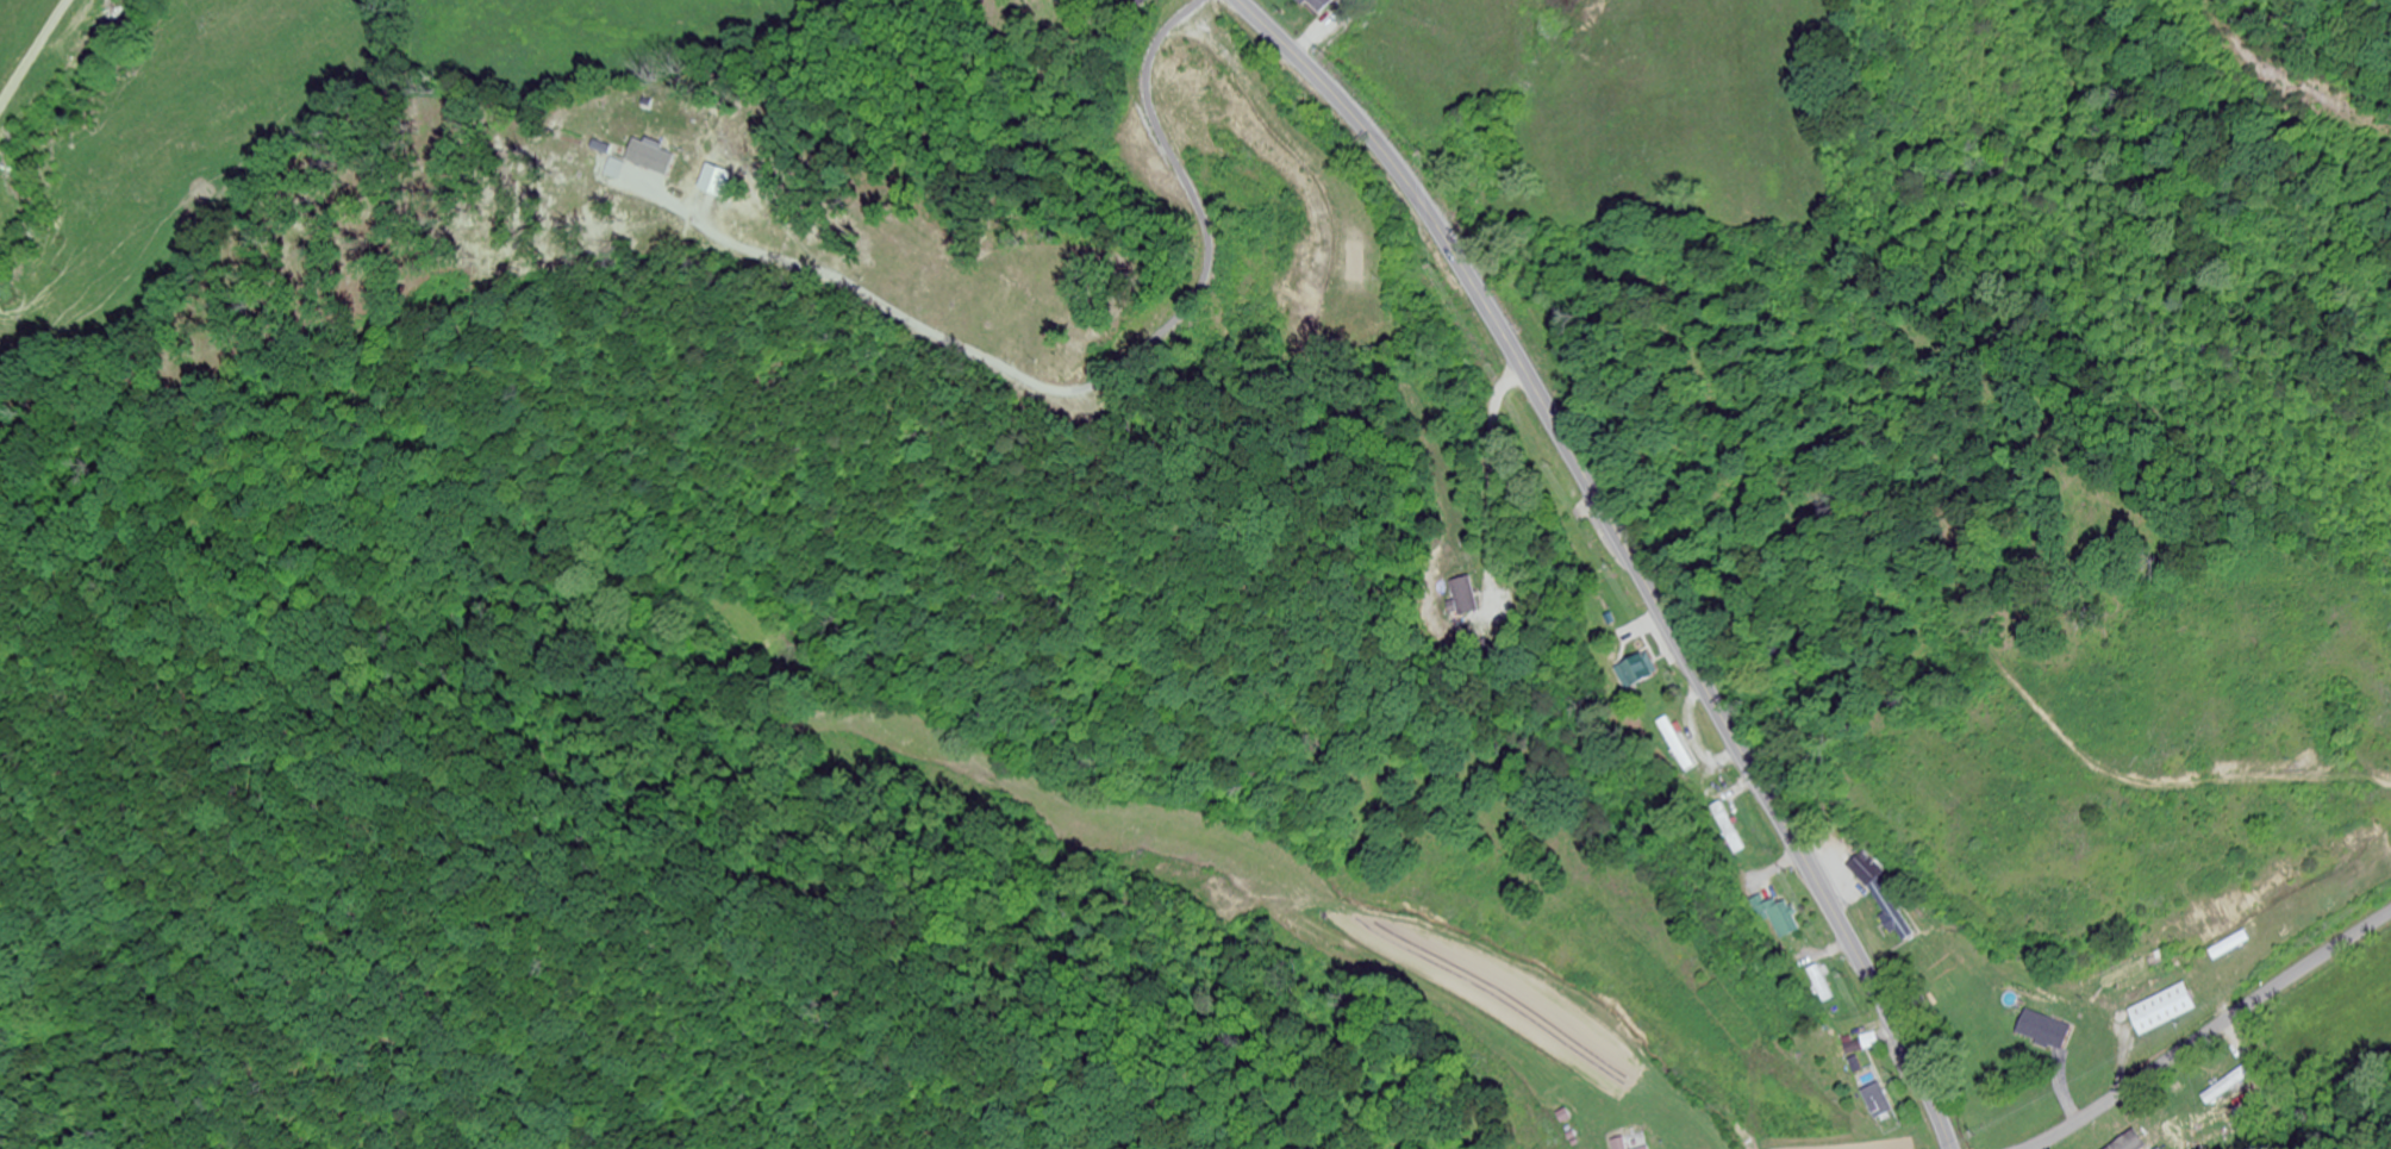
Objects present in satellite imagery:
building: (1317, 5)
road: (1625, 552)
building: (1468, 599)
building: (1635, 673)
building: (1677, 744)
building: (1729, 829)
building: (1875, 897)
building: (1779, 919)
building: (1821, 986)
building: (2161, 1011)
building: (2042, 1031)
road: (2210, 1032)
building: (1852, 1049)
building: (1878, 1103)
building: (1617, 1144)
building: (2136, 1145)
building: (1648, 1148)

